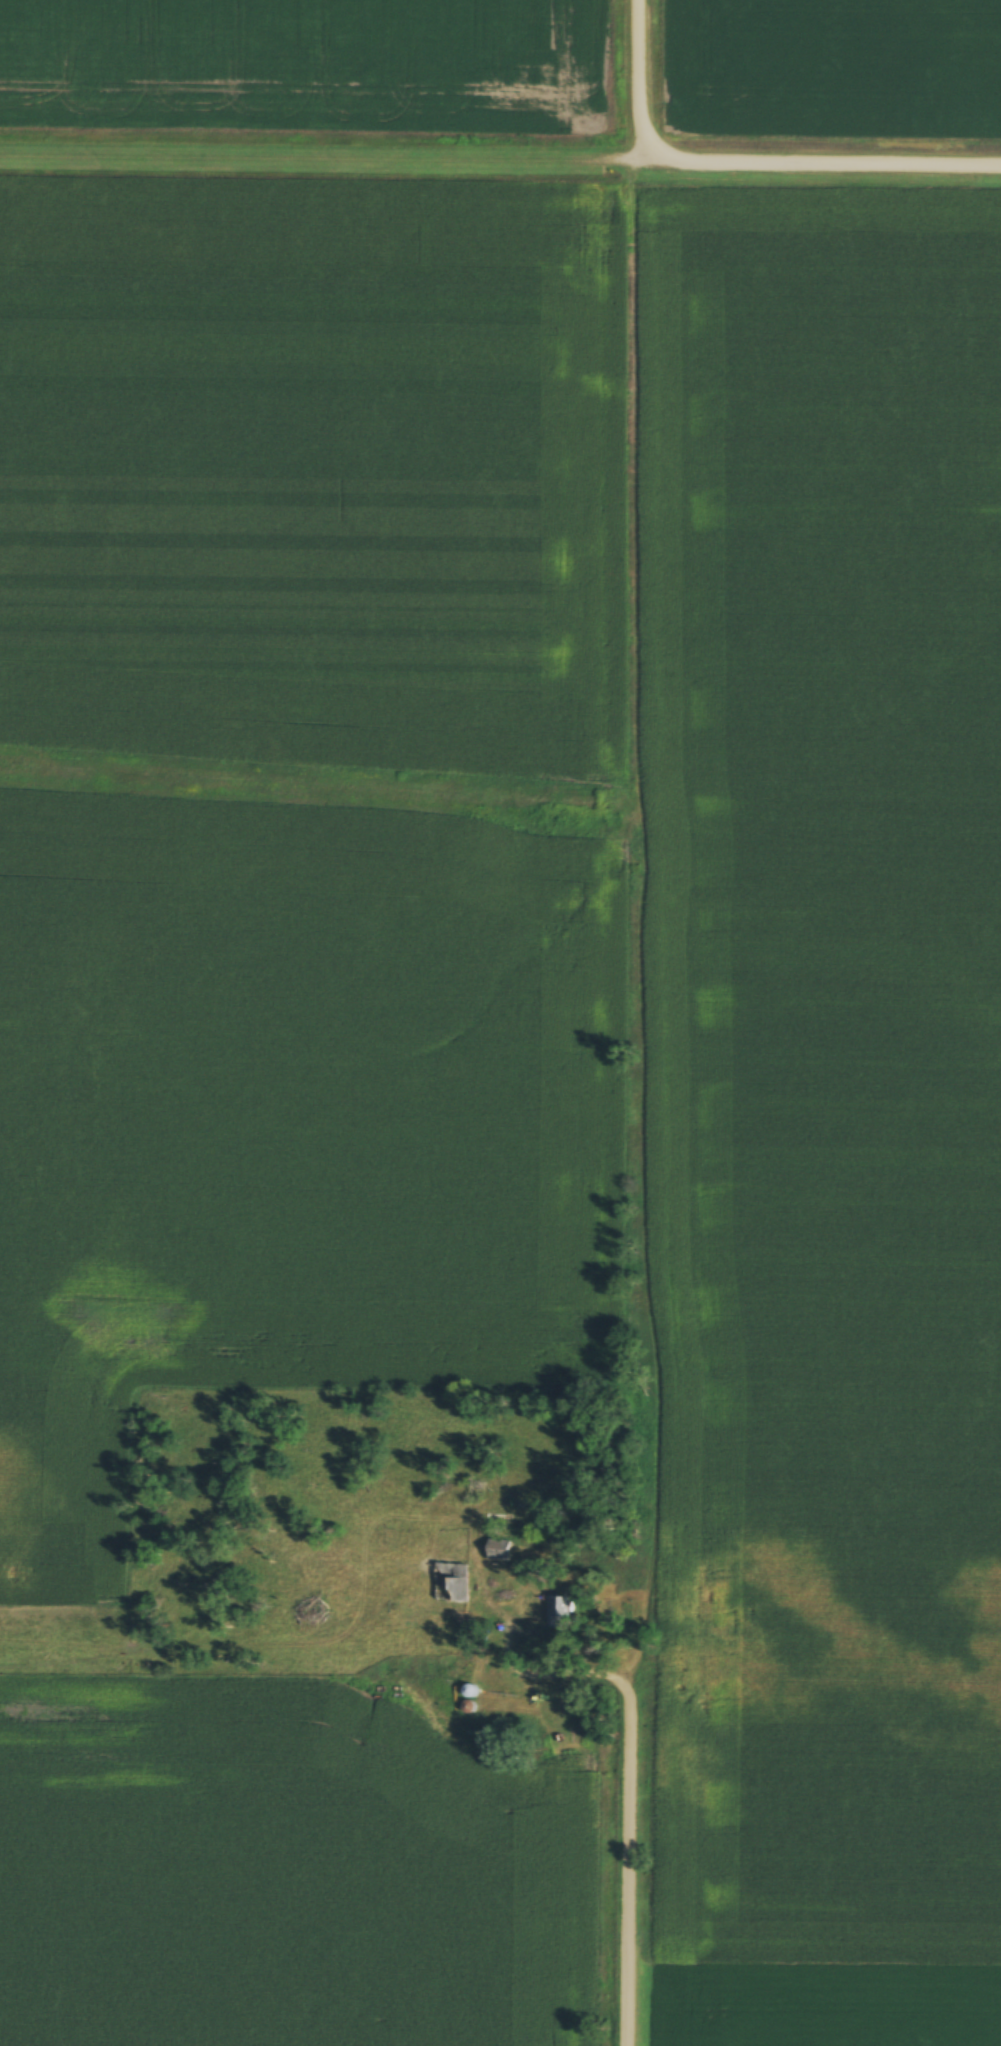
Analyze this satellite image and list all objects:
road: (639, 81)
road: (331, 160)
road: (831, 164)
building: (494, 1557)
building: (453, 1585)
building: (558, 1613)
road: (630, 1787)

